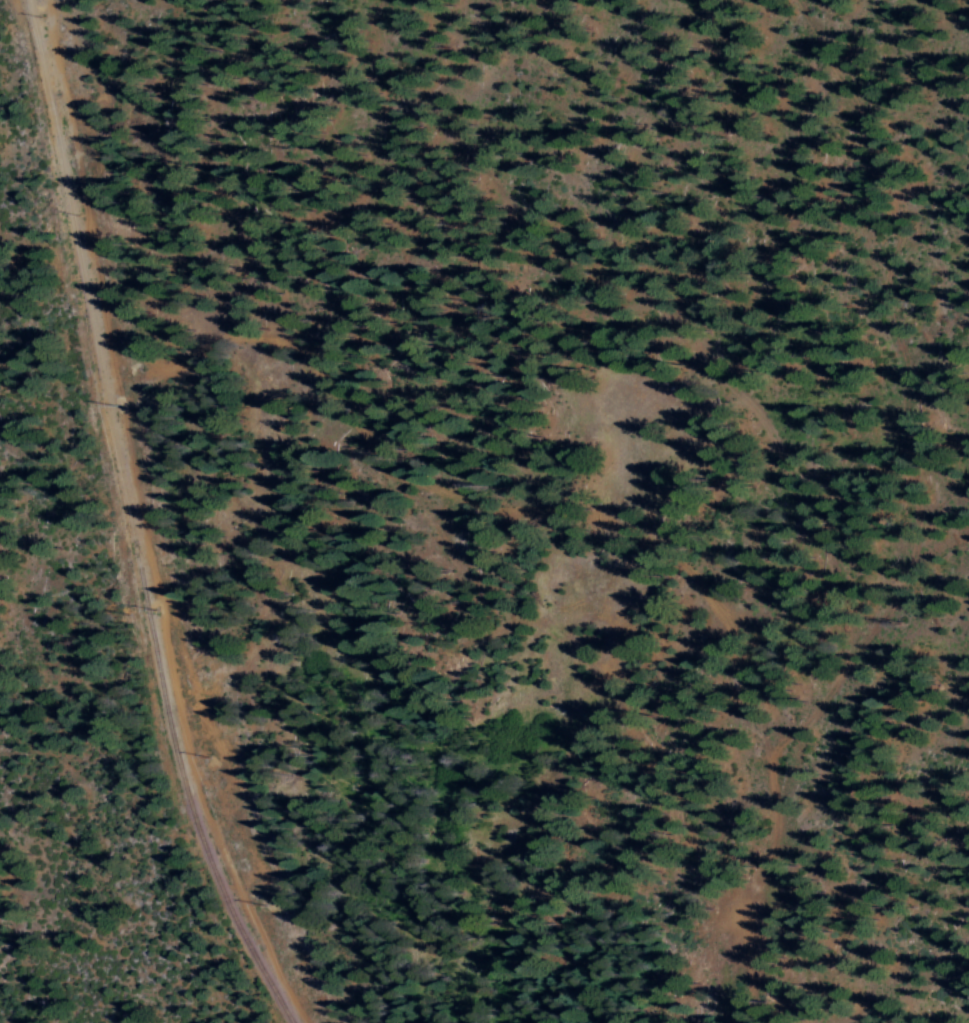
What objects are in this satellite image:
railway: (132, 522)

